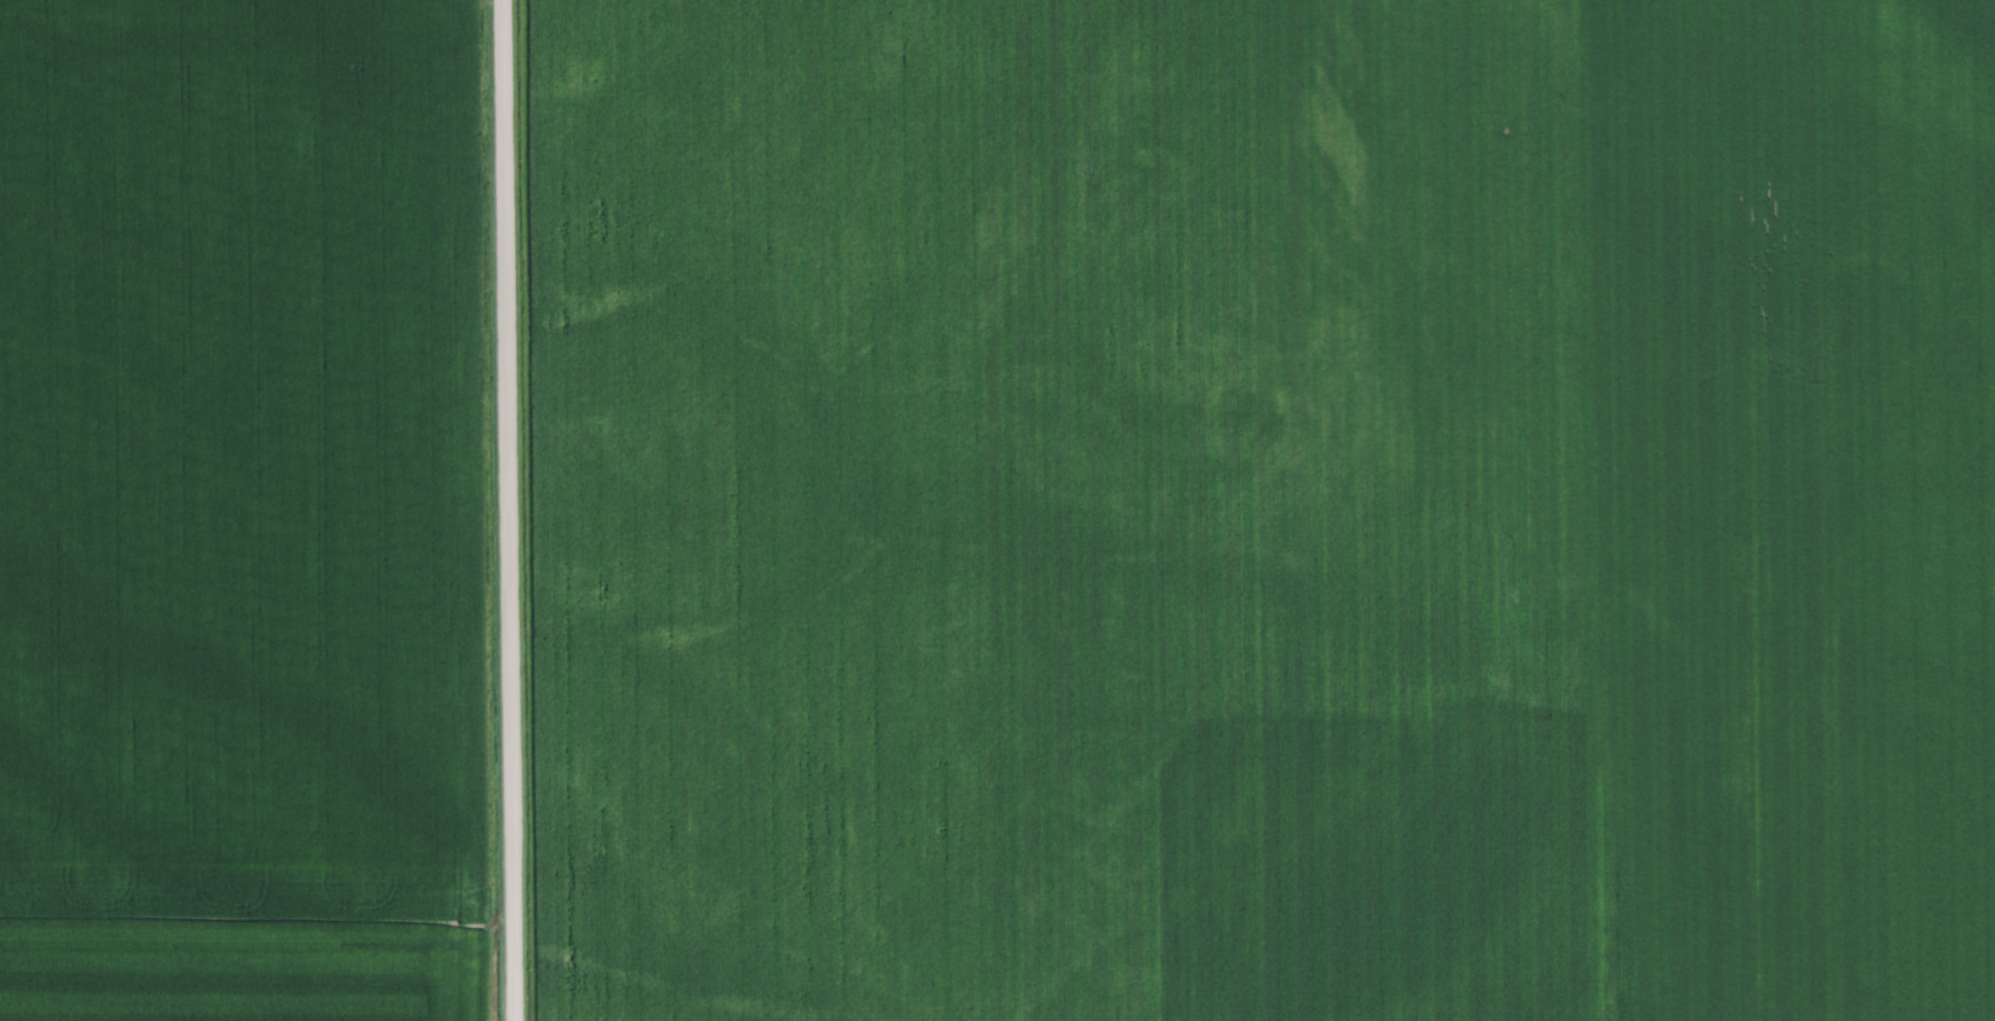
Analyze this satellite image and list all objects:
crop: (1260, 509)
road: (507, 510)
crop: (241, 511)

